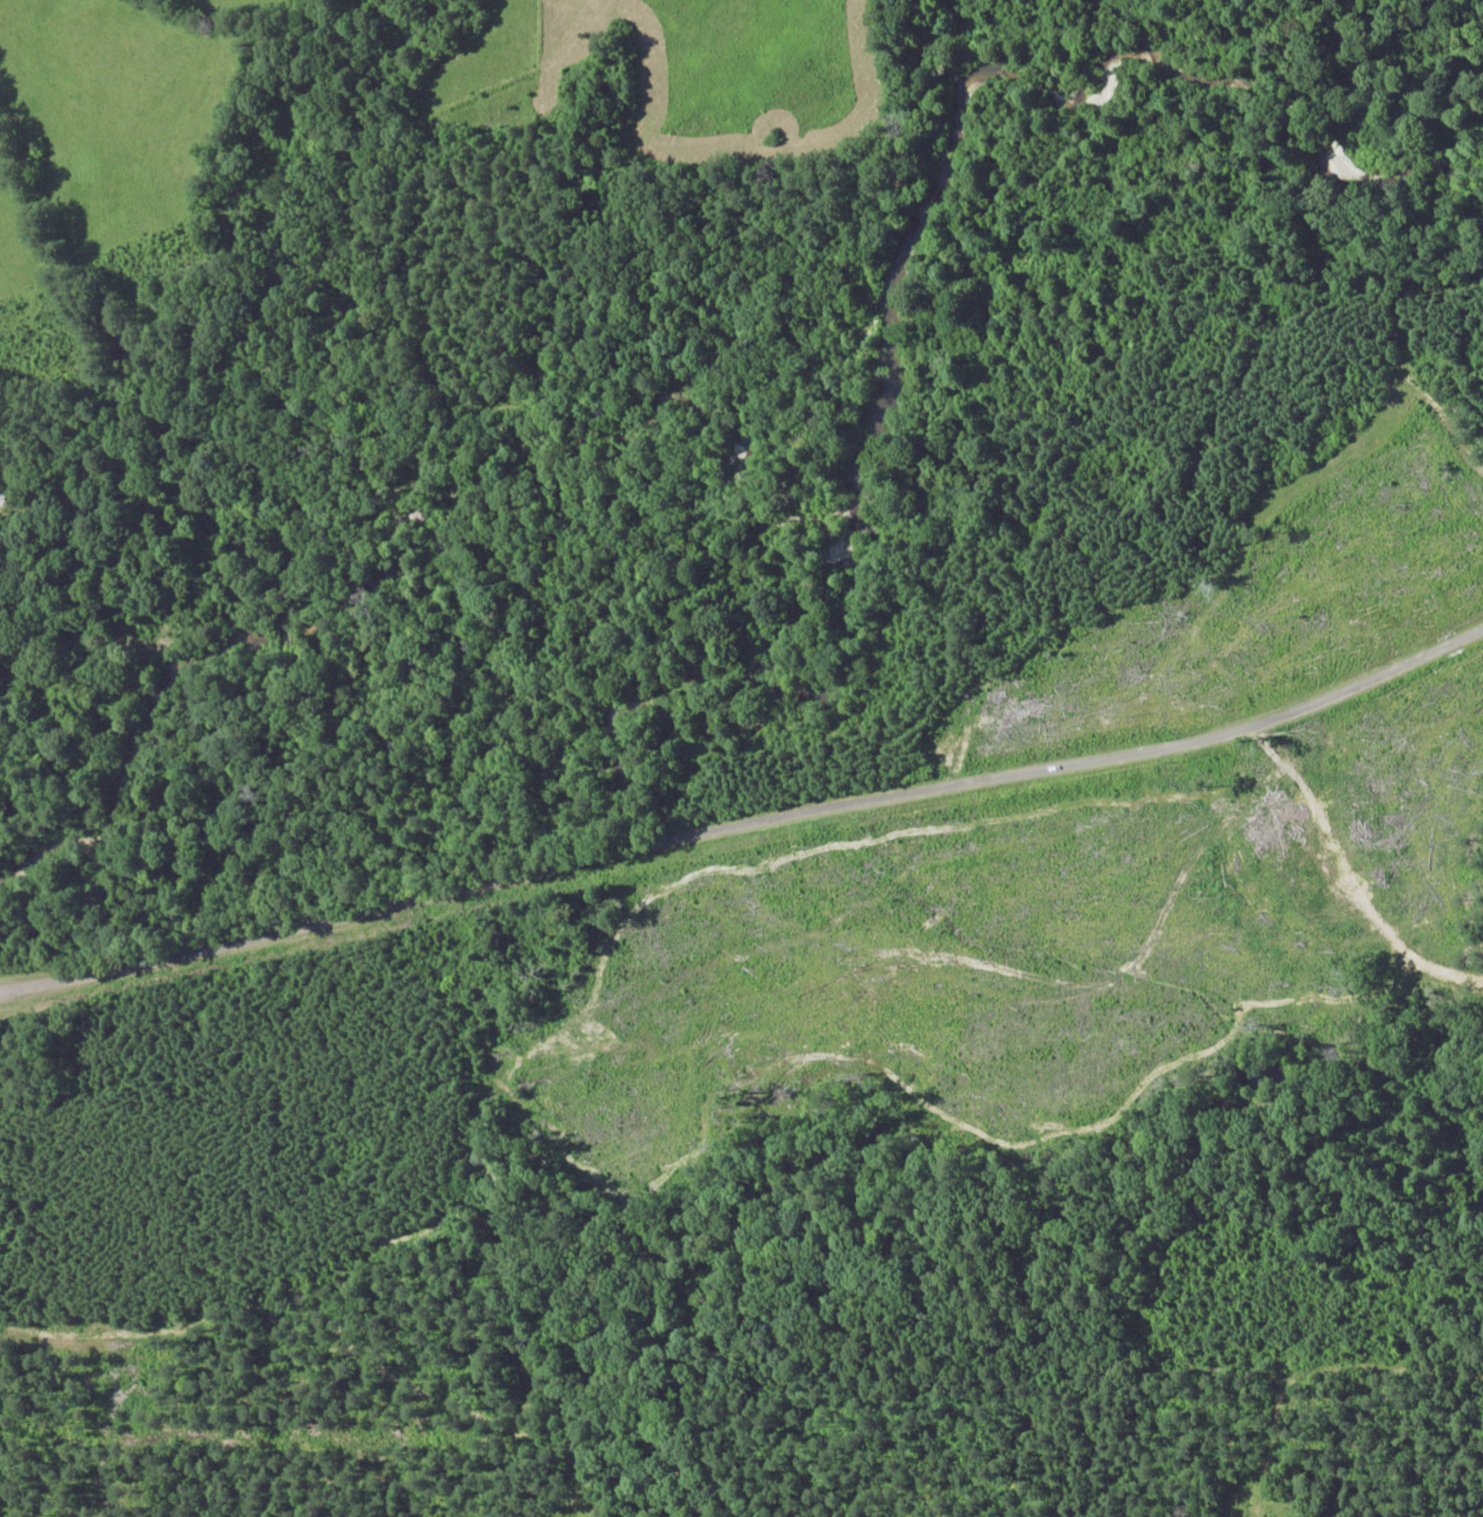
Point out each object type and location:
road: (747, 869)

